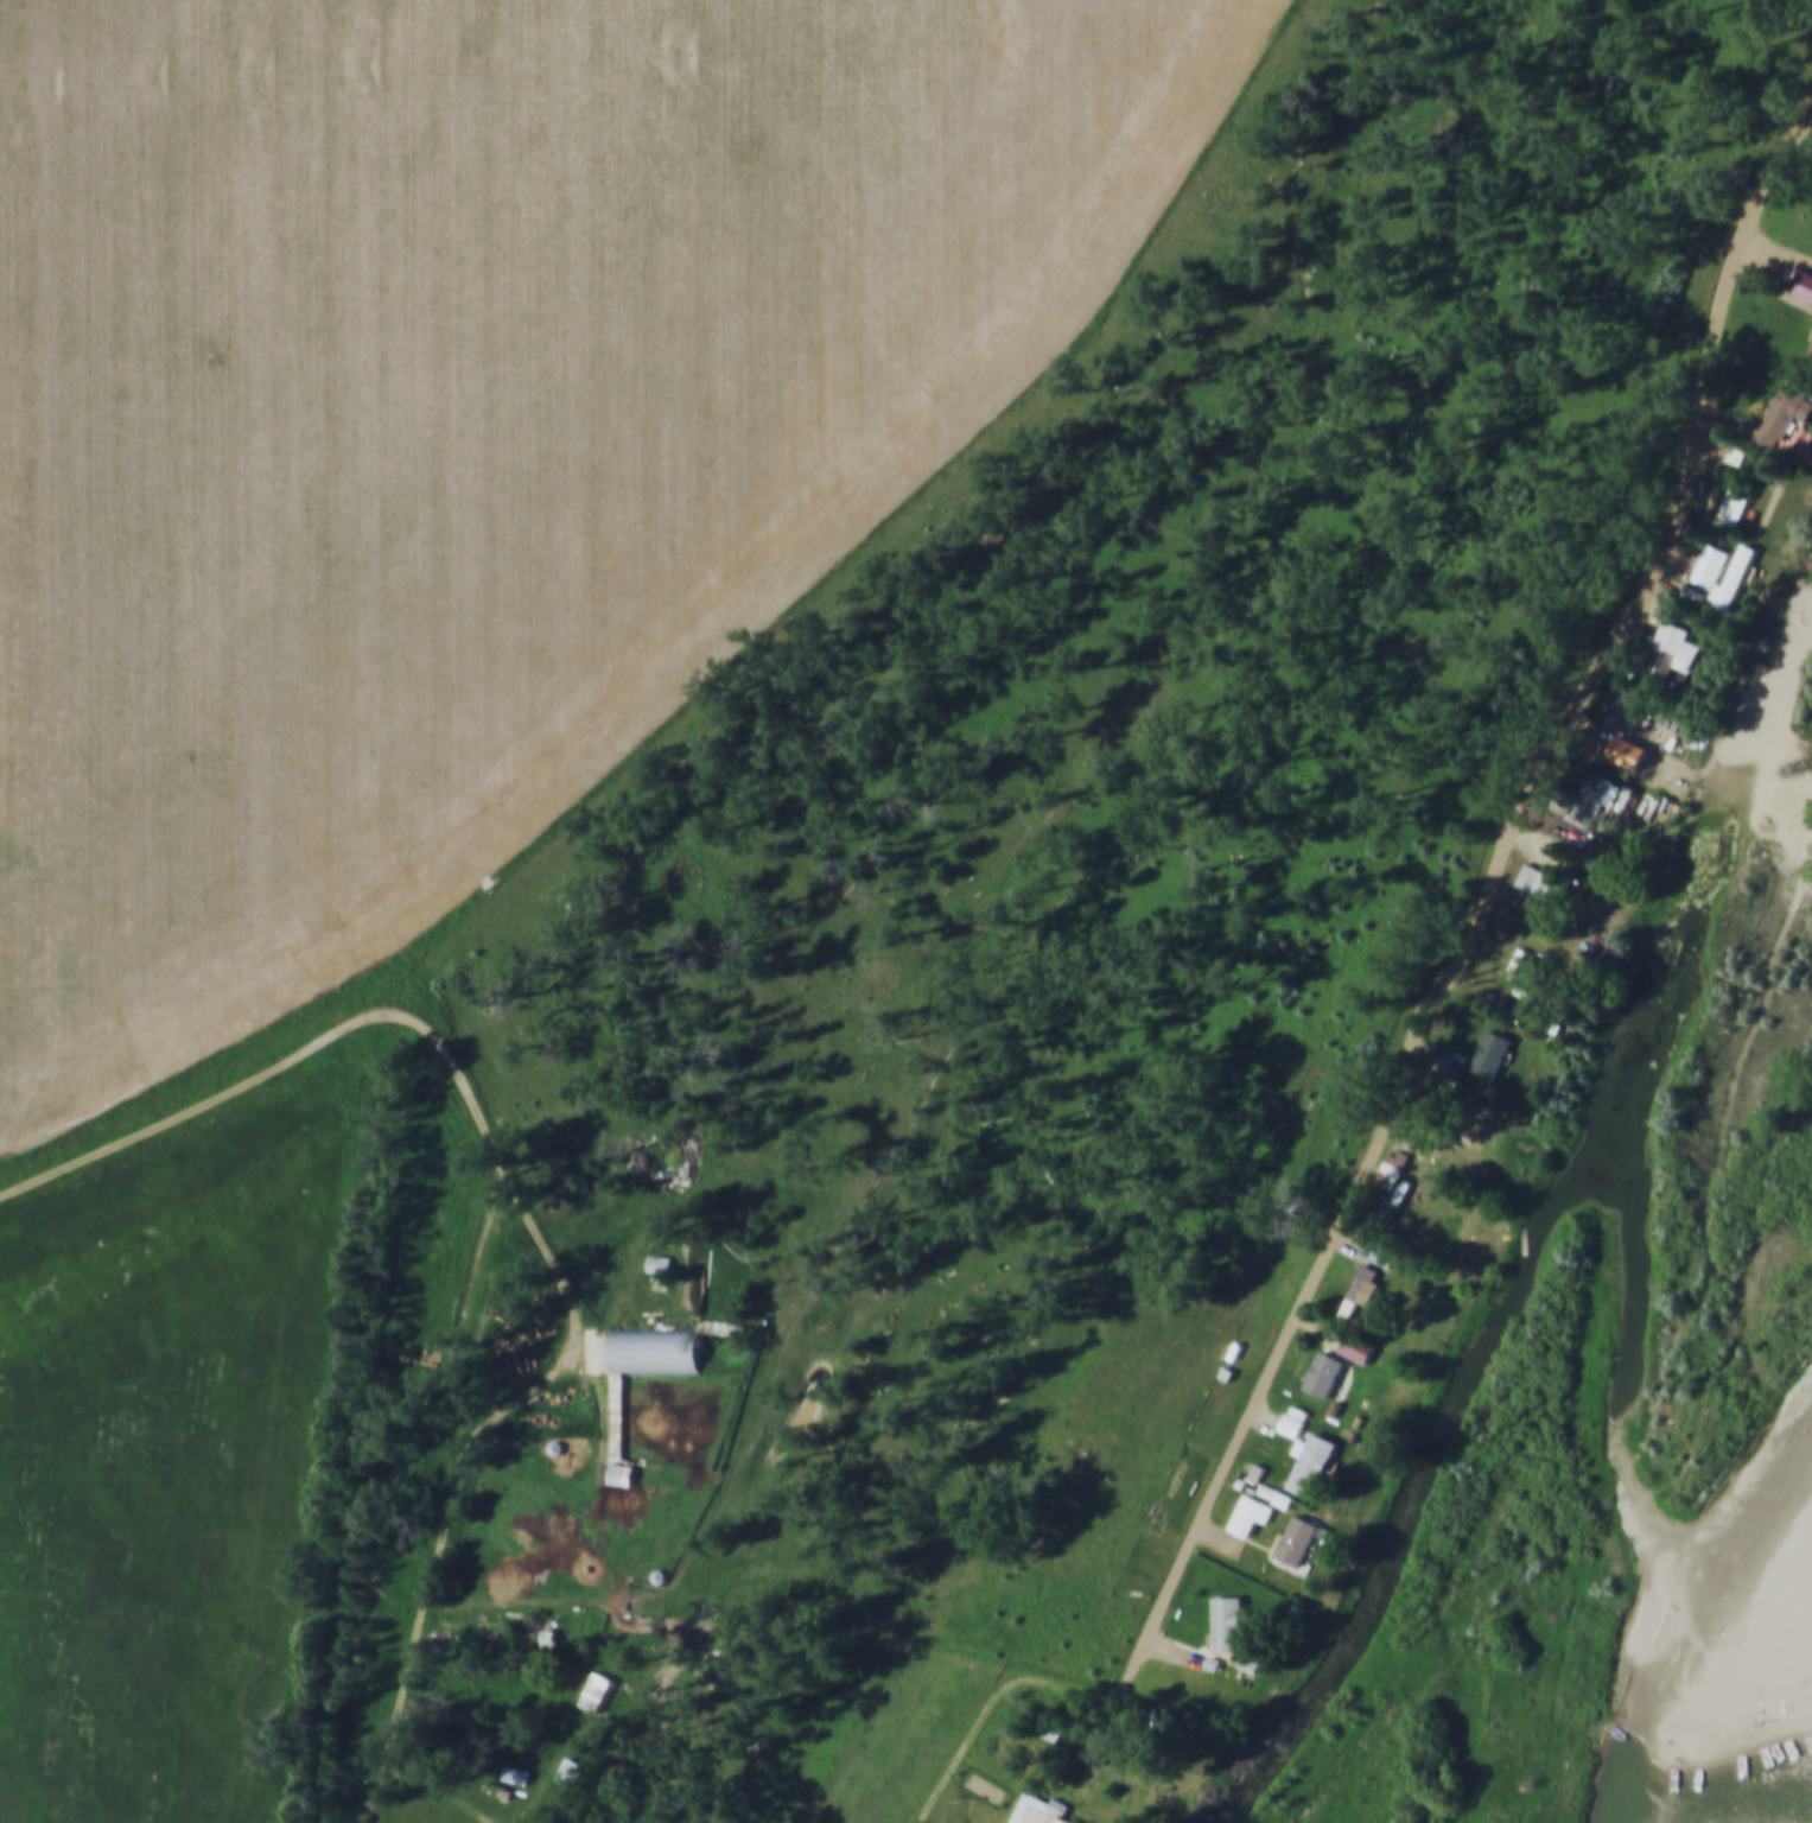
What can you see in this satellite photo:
building: (1803, 282)
building: (1811, 349)
building: (1784, 413)
building: (1731, 509)
building: (1667, 648)
building: (1626, 707)
building: (1595, 795)
building: (1534, 878)
road: (1476, 893)
building: (1493, 1053)
building: (1452, 1061)
building: (1394, 1164)
road: (492, 1188)
building: (1411, 1190)
building: (661, 1262)
building: (1362, 1288)
road: (577, 1320)
building: (1356, 1346)
building: (1324, 1372)
building: (617, 1417)
building: (1291, 1424)
building: (1312, 1462)
building: (1276, 1494)
building: (1250, 1513)
building: (1297, 1539)
building: (1227, 1620)
building: (596, 1690)
road: (996, 1707)
building: (570, 1770)
building: (516, 1773)
building: (1037, 1811)
road: (507, 1822)

